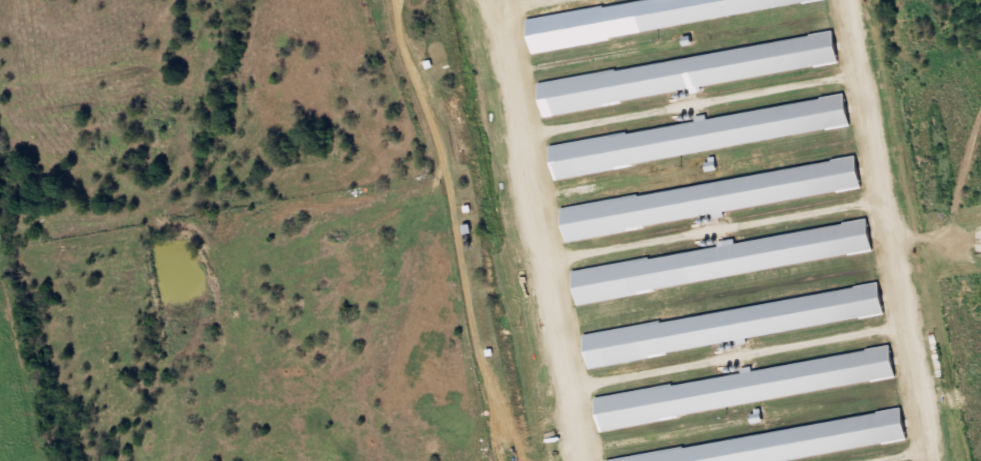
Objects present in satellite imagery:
building: (656, 17)
building: (693, 74)
building: (710, 136)
building: (716, 199)
building: (732, 261)
road: (850, 285)
building: (731, 327)
building: (753, 388)
building: (795, 444)

